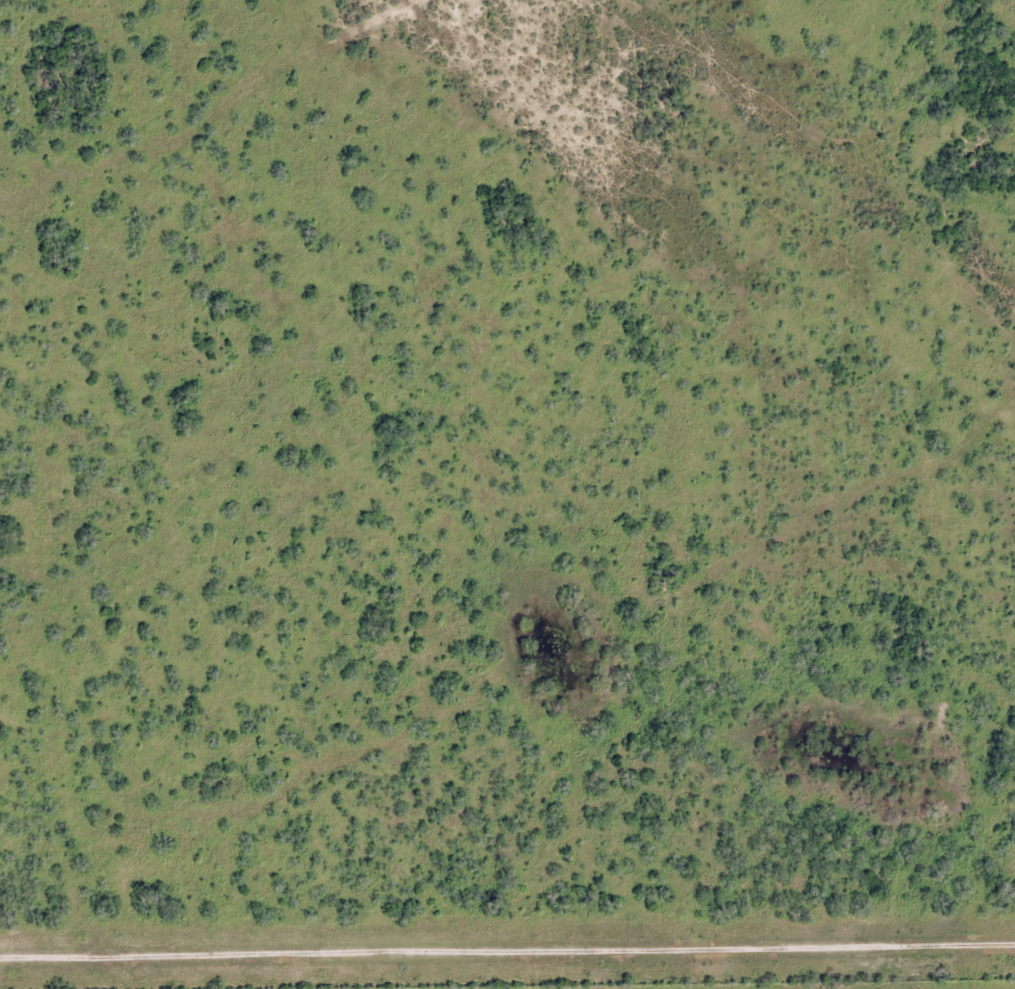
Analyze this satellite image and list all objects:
road: (507, 937)

